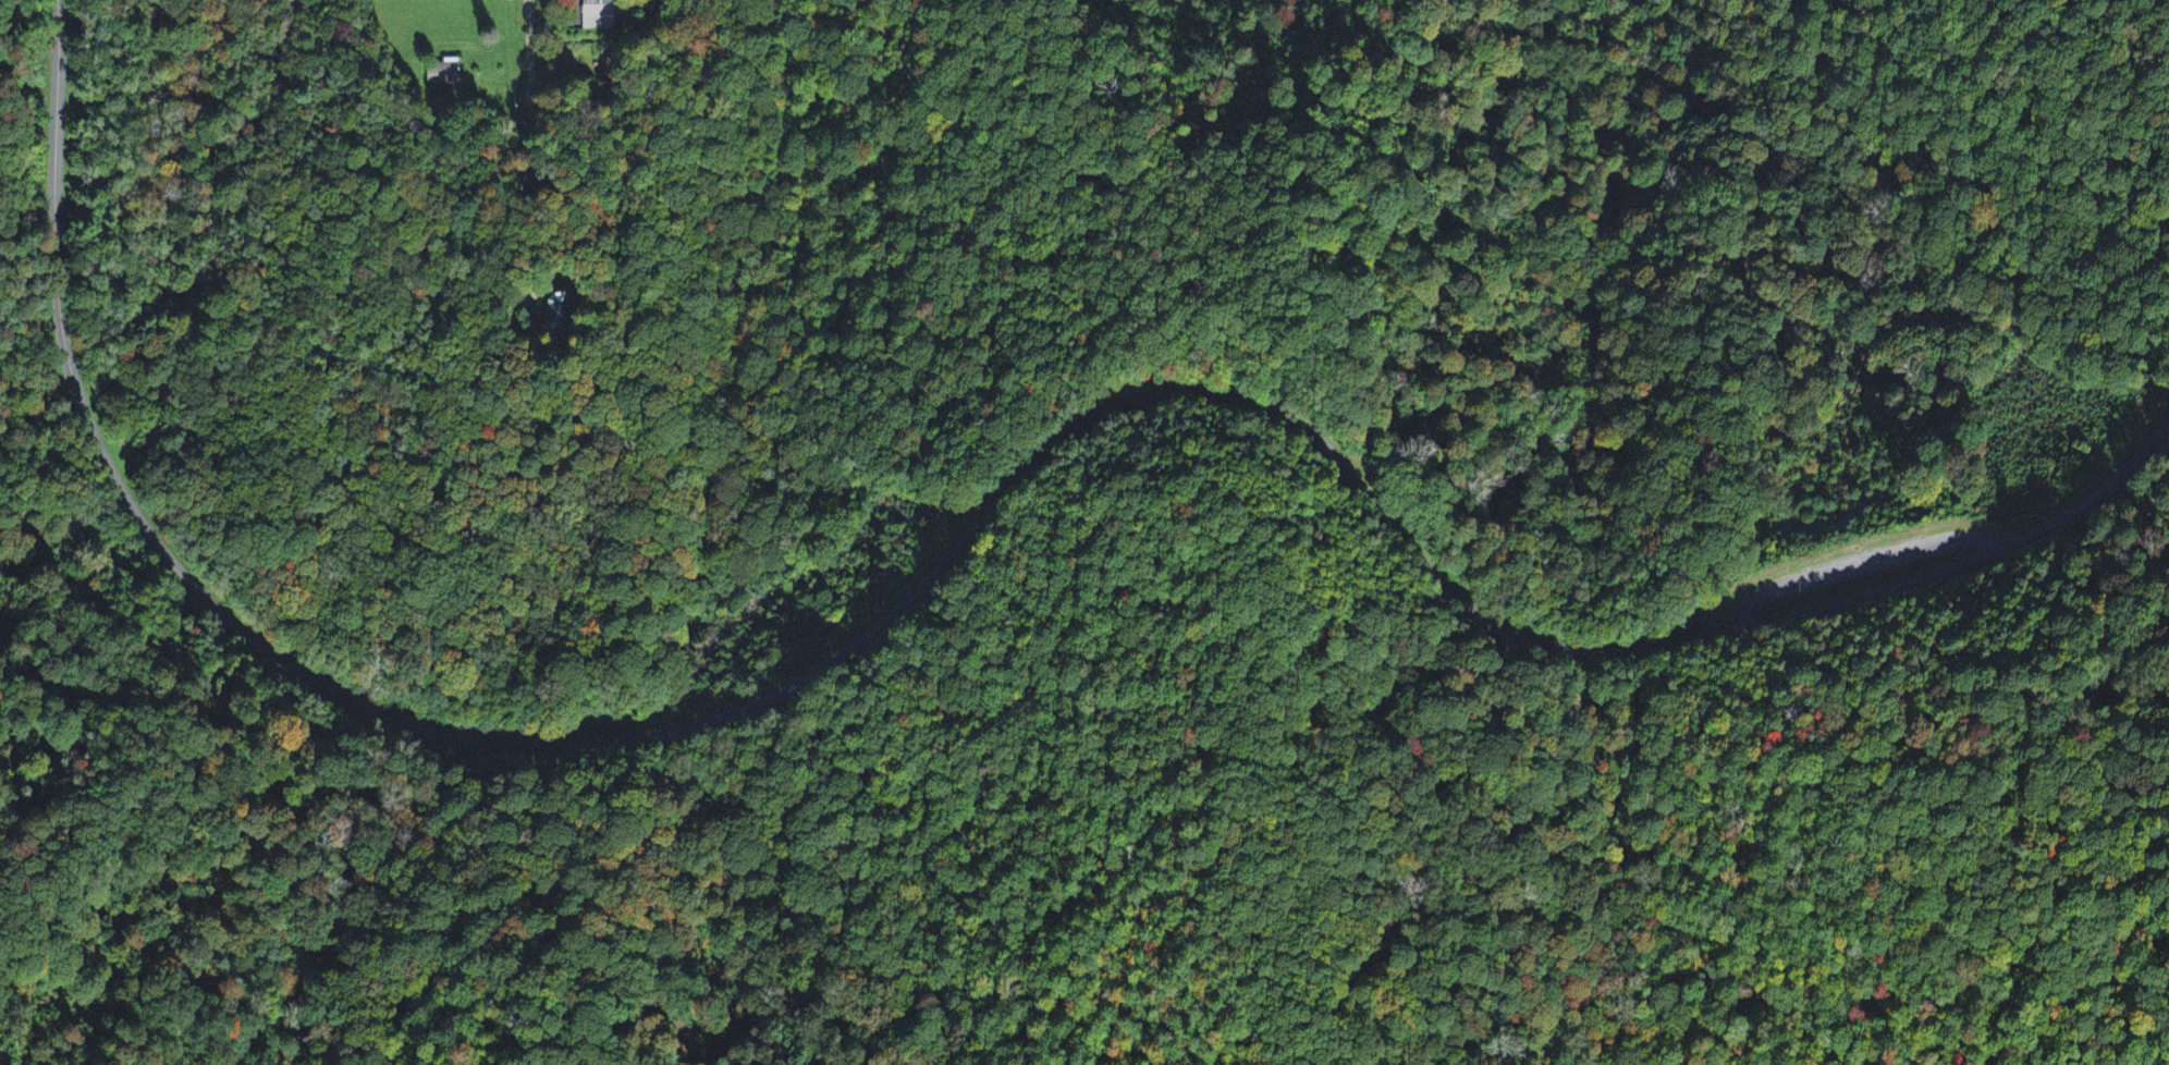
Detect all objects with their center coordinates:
building: (598, 15)
building: (444, 74)
road: (530, 90)
road: (1840, 510)
parking lot: (1829, 514)
road: (932, 574)
road: (1418, 879)
road: (273, 938)

